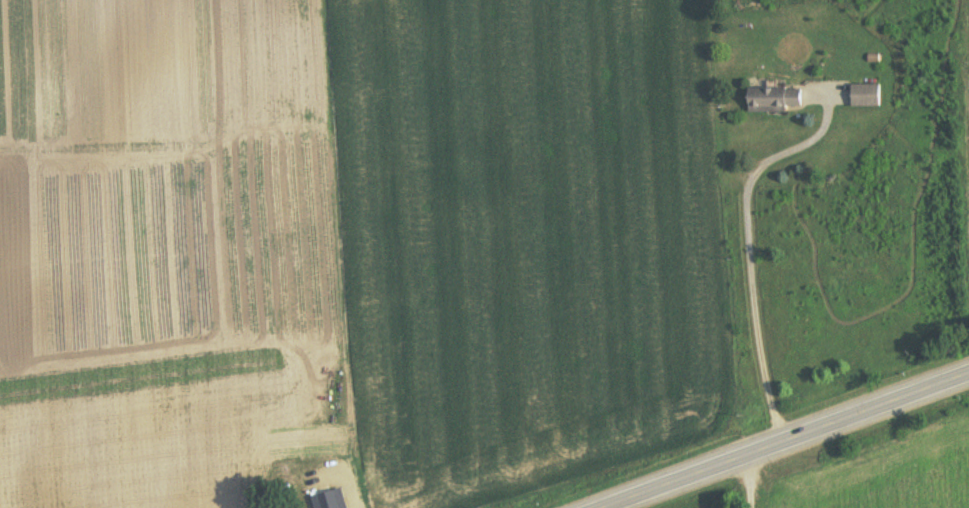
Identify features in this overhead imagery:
building: (866, 98)
building: (775, 102)
road: (762, 430)
road: (742, 472)

